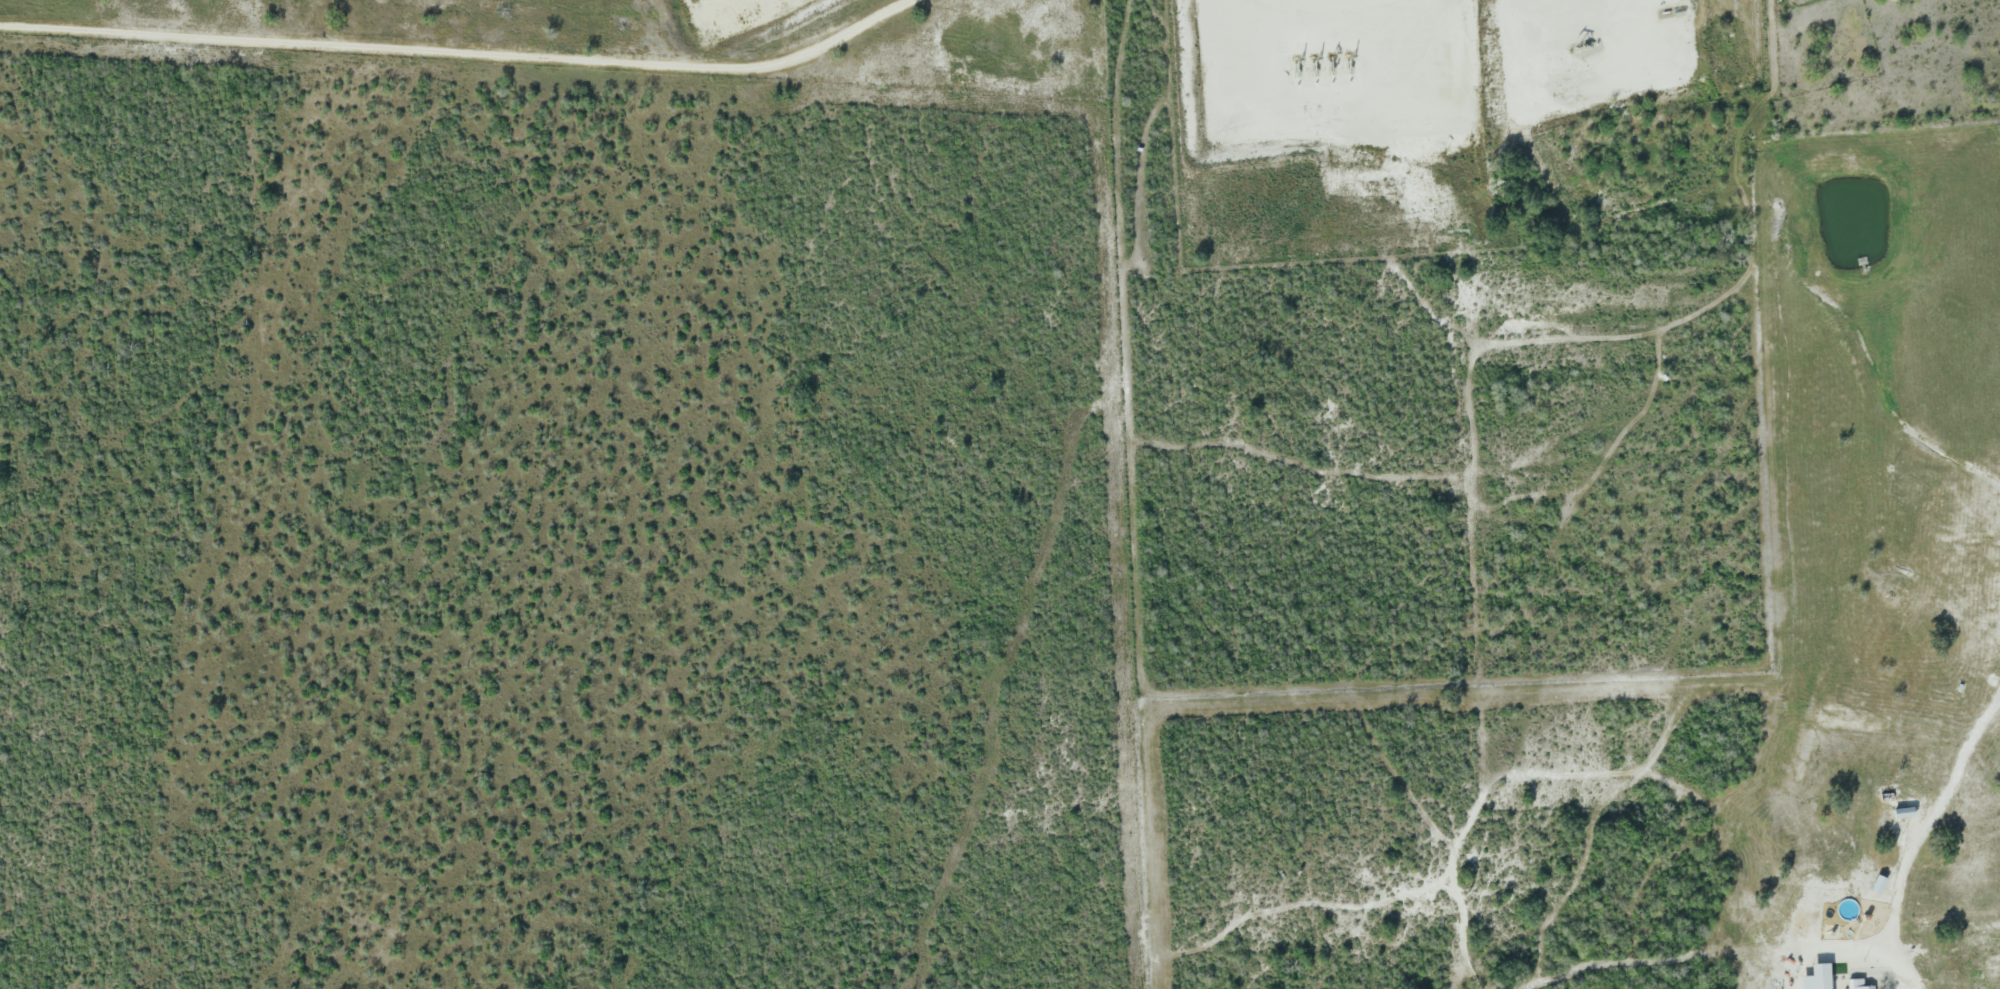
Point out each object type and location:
road: (465, 53)
building: (1902, 814)
building: (1989, 959)
road: (1909, 982)
building: (1854, 985)

